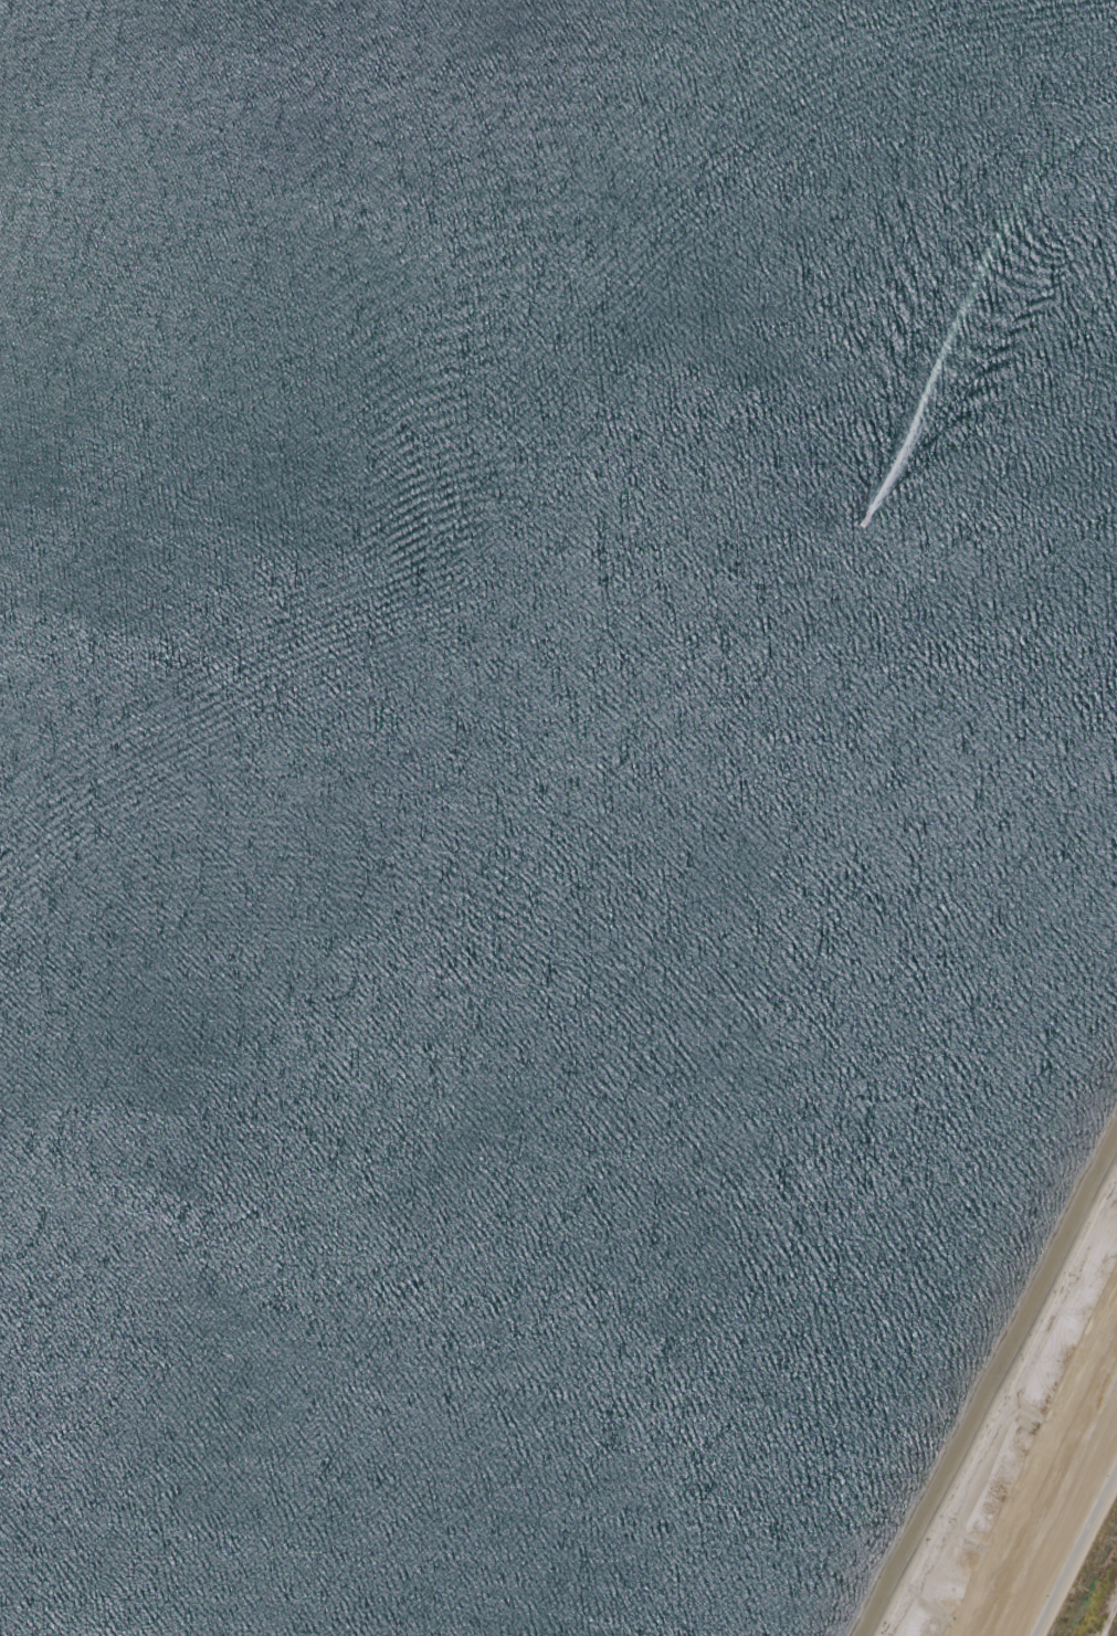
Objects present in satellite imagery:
park: (1033, 1471)
road: (1074, 1551)

